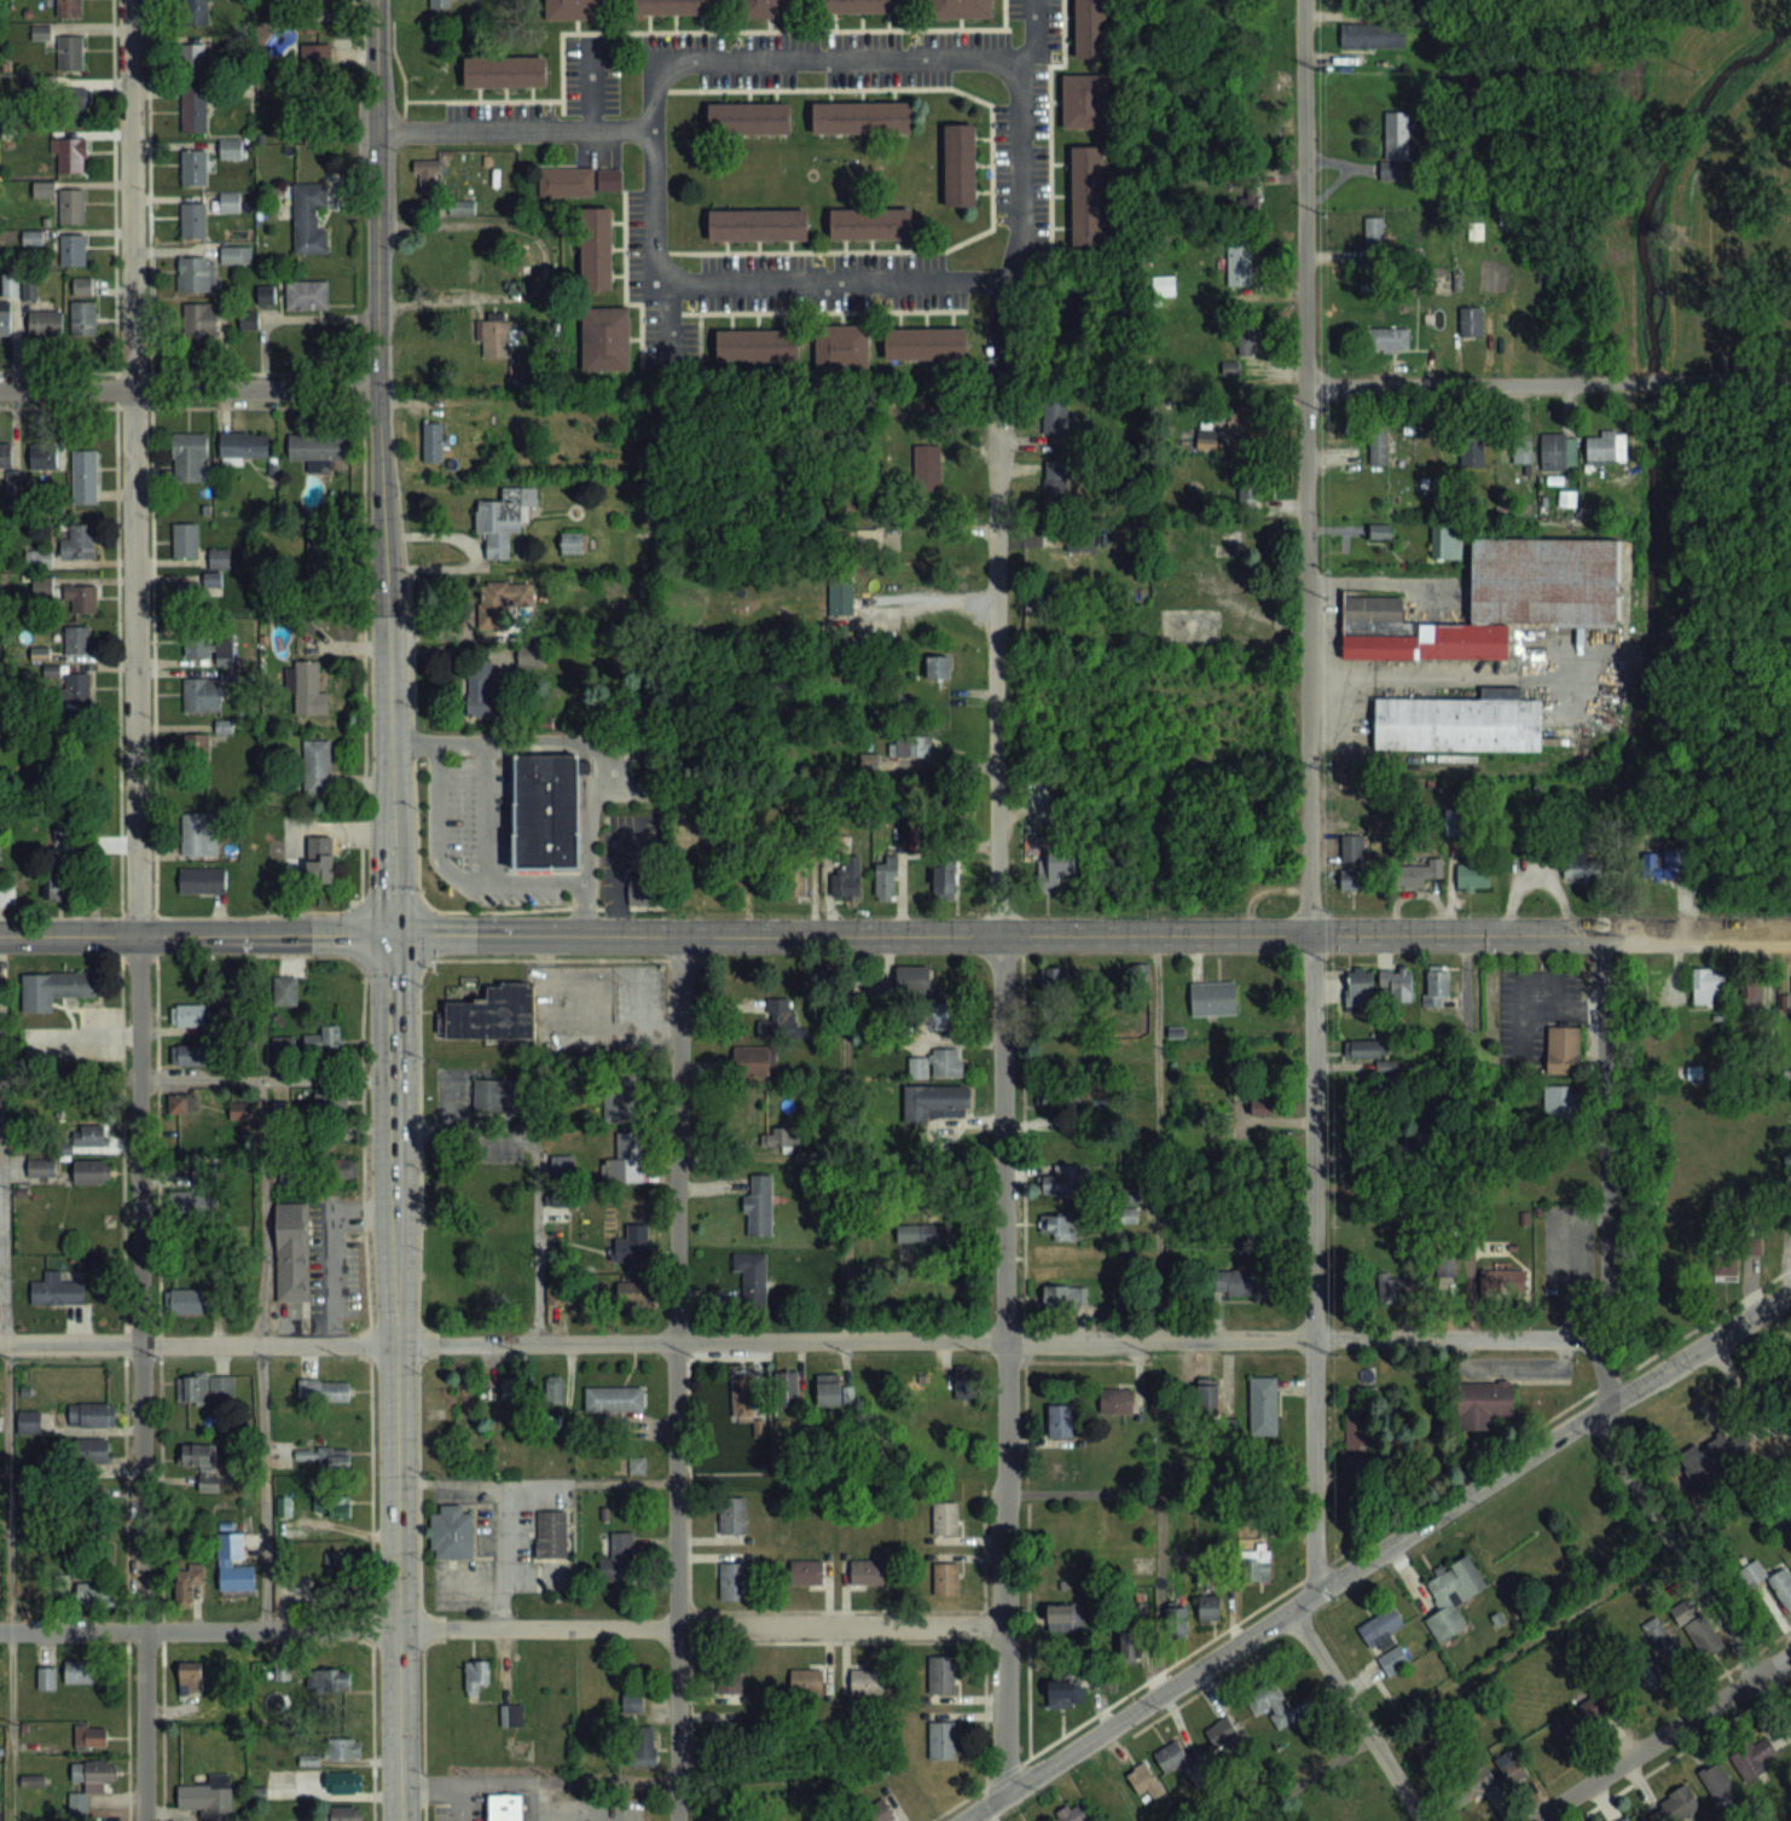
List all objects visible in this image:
building: (440, 4)
building: (859, 5)
building: (69, 7)
building: (672, 7)
building: (318, 8)
building: (575, 8)
building: (766, 8)
building: (960, 8)
building: (195, 11)
building: (1089, 28)
building: (1368, 34)
road: (1031, 39)
building: (71, 53)
building: (317, 57)
building: (195, 58)
road: (968, 58)
building: (504, 70)
road: (589, 85)
building: (1083, 99)
building: (73, 105)
building: (195, 110)
building: (862, 117)
building: (747, 118)
road: (515, 132)
building: (1396, 143)
building: (231, 149)
building: (70, 155)
building: (960, 163)
building: (193, 167)
building: (428, 175)
building: (564, 180)
building: (1085, 193)
road: (377, 195)
building: (230, 202)
building: (71, 205)
building: (460, 207)
building: (309, 218)
building: (193, 220)
building: (757, 224)
building: (870, 224)
building: (1374, 232)
building: (595, 247)
building: (74, 251)
building: (236, 254)
building: (1240, 262)
building: (196, 273)
building: (1164, 286)
building: (265, 294)
building: (307, 294)
road: (289, 317)
building: (5, 319)
building: (83, 320)
building: (1471, 320)
building: (199, 321)
road: (667, 321)
building: (45, 323)
building: (603, 337)
building: (1248, 338)
building: (1389, 338)
building: (497, 341)
building: (925, 342)
building: (755, 344)
building: (840, 346)
building: (1230, 367)
road: (1547, 381)
road: (189, 390)
building: (1056, 416)
building: (433, 441)
building: (244, 446)
building: (1379, 446)
building: (317, 447)
building: (1520, 447)
building: (1605, 447)
building: (1472, 451)
building: (1559, 451)
building: (5, 454)
building: (42, 457)
building: (189, 458)
building: (928, 465)
building: (85, 477)
building: (1056, 480)
building: (503, 520)
building: (1080, 538)
building: (185, 541)
building: (79, 543)
building: (1445, 544)
building: (199, 590)
road: (935, 597)
building: (81, 599)
building: (1495, 599)
building: (841, 602)
building: (495, 605)
building: (76, 639)
building: (210, 649)
building: (938, 666)
road: (1430, 674)
building: (473, 689)
building: (309, 690)
building: (202, 694)
building: (74, 697)
building: (1459, 721)
road: (538, 741)
building: (915, 747)
building: (195, 755)
road: (485, 764)
building: (317, 769)
road: (1306, 798)
road: (589, 808)
building: (545, 811)
building: (1453, 822)
road: (435, 828)
building: (199, 835)
building: (1351, 847)
building: (1664, 864)
building: (1055, 866)
building: (1581, 866)
building: (319, 869)
building: (1419, 871)
building: (1472, 876)
building: (847, 878)
building: (886, 878)
building: (202, 880)
building: (1355, 880)
building: (60, 881)
building: (944, 881)
road: (538, 882)
building: (645, 882)
building: (794, 885)
road: (616, 886)
road: (590, 907)
road: (138, 910)
road: (895, 933)
traffic signals: (394, 935)
road: (1520, 976)
building: (914, 978)
building: (1054, 981)
building: (1395, 984)
building: (1706, 986)
building: (52, 987)
building: (1358, 987)
building: (284, 990)
building: (1437, 991)
building: (1751, 996)
building: (1213, 999)
road: (1560, 1011)
building: (187, 1013)
building: (492, 1014)
building: (941, 1015)
building: (775, 1017)
road: (85, 1032)
building: (330, 1036)
building: (1561, 1048)
building: (1363, 1049)
building: (191, 1054)
building: (752, 1060)
building: (938, 1065)
building: (1390, 1066)
road: (70, 1075)
road: (266, 1077)
building: (497, 1092)
building: (1055, 1096)
building: (622, 1097)
road: (1004, 1100)
building: (1560, 1101)
building: (937, 1102)
building: (180, 1103)
building: (330, 1104)
road: (394, 1104)
building: (1262, 1104)
building: (240, 1110)
building: (91, 1135)
building: (781, 1136)
road: (1160, 1136)
road: (1465, 1136)
road: (845, 1137)
building: (1068, 1147)
building: (627, 1159)
road: (538, 1165)
building: (1789, 1166)
building: (41, 1167)
road: (1602, 1167)
building: (344, 1168)
building: (92, 1171)
building: (202, 1177)
building: (1060, 1185)
building: (186, 1204)
building: (759, 1205)
building: (1057, 1226)
building: (1752, 1242)
road: (332, 1246)
building: (630, 1248)
building: (291, 1251)
building: (1722, 1265)
building: (1445, 1266)
building: (752, 1276)
building: (1242, 1281)
building: (1502, 1282)
road: (257, 1283)
building: (1389, 1287)
building: (57, 1291)
building: (630, 1292)
building: (1066, 1299)
building: (187, 1300)
road: (801, 1340)
road: (674, 1376)
building: (966, 1384)
building: (203, 1386)
building: (509, 1387)
building: (553, 1388)
building: (326, 1390)
building: (788, 1390)
building: (833, 1392)
building: (614, 1397)
building: (743, 1397)
building: (1207, 1399)
building: (1118, 1402)
building: (1484, 1404)
building: (1263, 1405)
building: (97, 1414)
building: (28, 1420)
building: (1060, 1420)
building: (1358, 1442)
road: (7, 1448)
building: (93, 1451)
building: (198, 1457)
building: (314, 1457)
building: (1715, 1460)
building: (637, 1466)
road: (535, 1479)
road: (1160, 1495)
building: (331, 1506)
building: (731, 1515)
building: (945, 1518)
building: (447, 1529)
building: (549, 1531)
road: (502, 1553)
road: (1378, 1555)
building: (620, 1556)
building: (331, 1558)
building: (233, 1564)
building: (1256, 1565)
building: (805, 1572)
building: (866, 1572)
road: (1691, 1574)
building: (945, 1579)
building: (185, 1581)
building: (732, 1581)
building: (1772, 1582)
building: (332, 1591)
building: (94, 1594)
building: (1451, 1596)
building: (1209, 1608)
building: (1065, 1618)
building: (1177, 1619)
road: (502, 1626)
building: (1697, 1630)
building: (1654, 1634)
building: (1384, 1640)
building: (1129, 1647)
building: (77, 1670)
building: (940, 1675)
building: (1650, 1675)
building: (46, 1676)
building: (475, 1676)
building: (190, 1677)
building: (729, 1678)
building: (329, 1681)
building: (806, 1681)
road: (1456, 1682)
building: (866, 1683)
building: (1065, 1693)
building: (633, 1703)
building: (1271, 1704)
building: (552, 1712)
building: (1587, 1713)
building: (511, 1716)
road: (1356, 1716)
building: (729, 1730)
building: (91, 1735)
building: (1223, 1735)
road: (1660, 1739)
building: (941, 1740)
building: (343, 1748)
building: (639, 1753)
building: (309, 1756)
building: (1754, 1759)
building: (1182, 1762)
building: (1513, 1771)
building: (94, 1773)
road: (538, 1779)
building: (1144, 1781)
building: (342, 1782)
building: (1717, 1782)
building: (208, 1800)
road: (457, 1800)
road: (529, 1800)
building: (1680, 1804)
building: (502, 1805)
building: (879, 1810)
building: (342, 1814)
building: (1072, 1814)
road: (969, 1820)
building: (1627, 1820)

